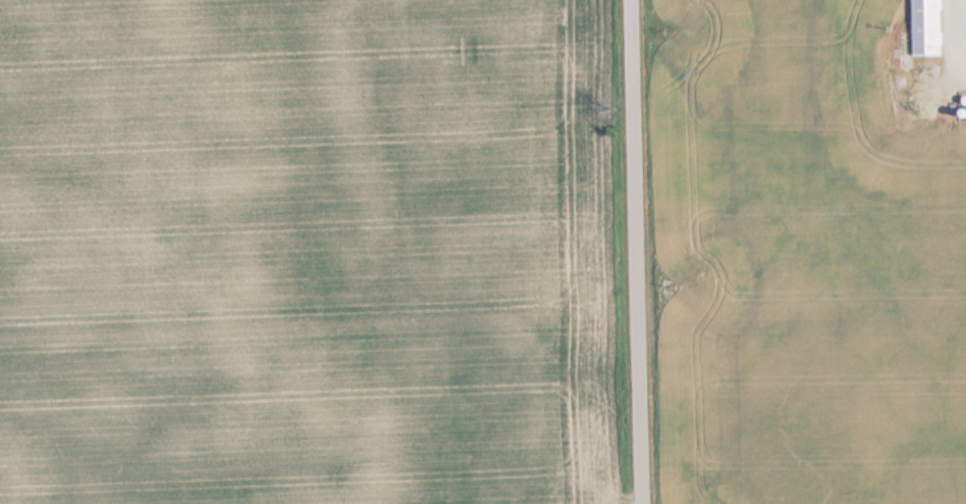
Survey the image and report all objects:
building: (924, 44)
road: (641, 252)

